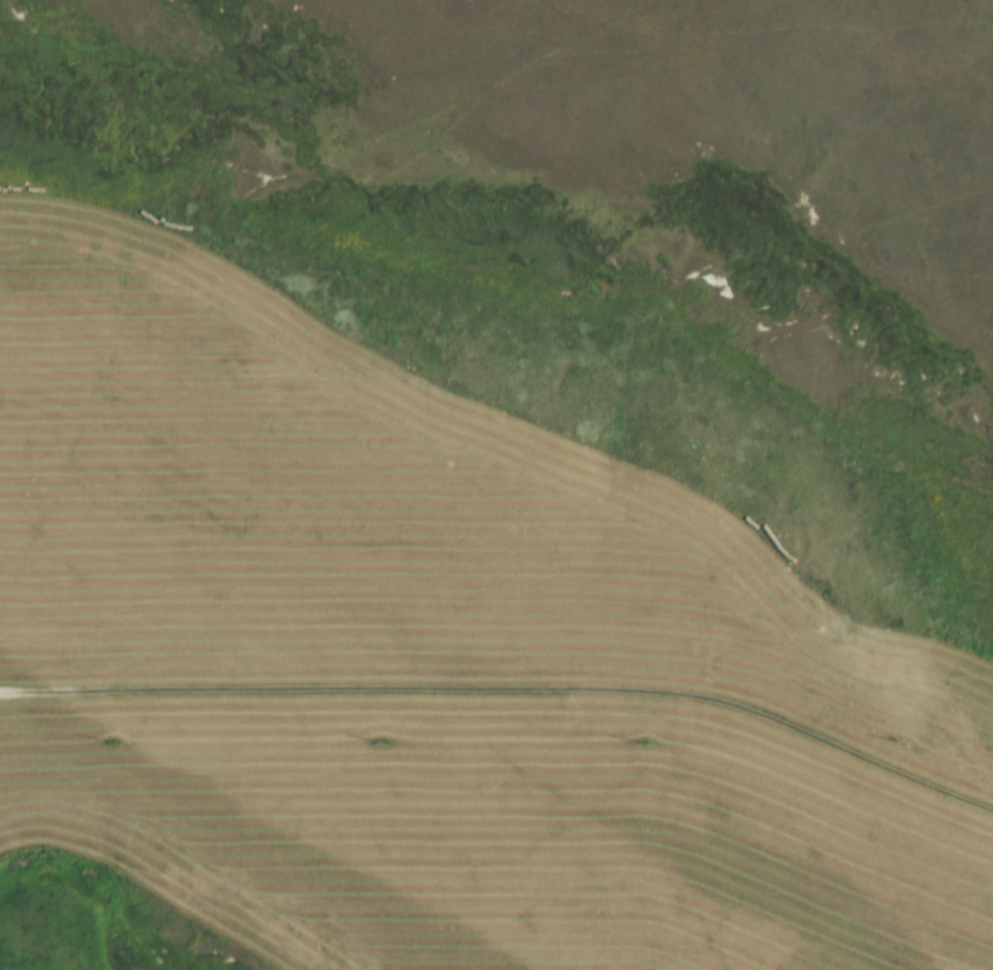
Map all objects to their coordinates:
road: (510, 685)

